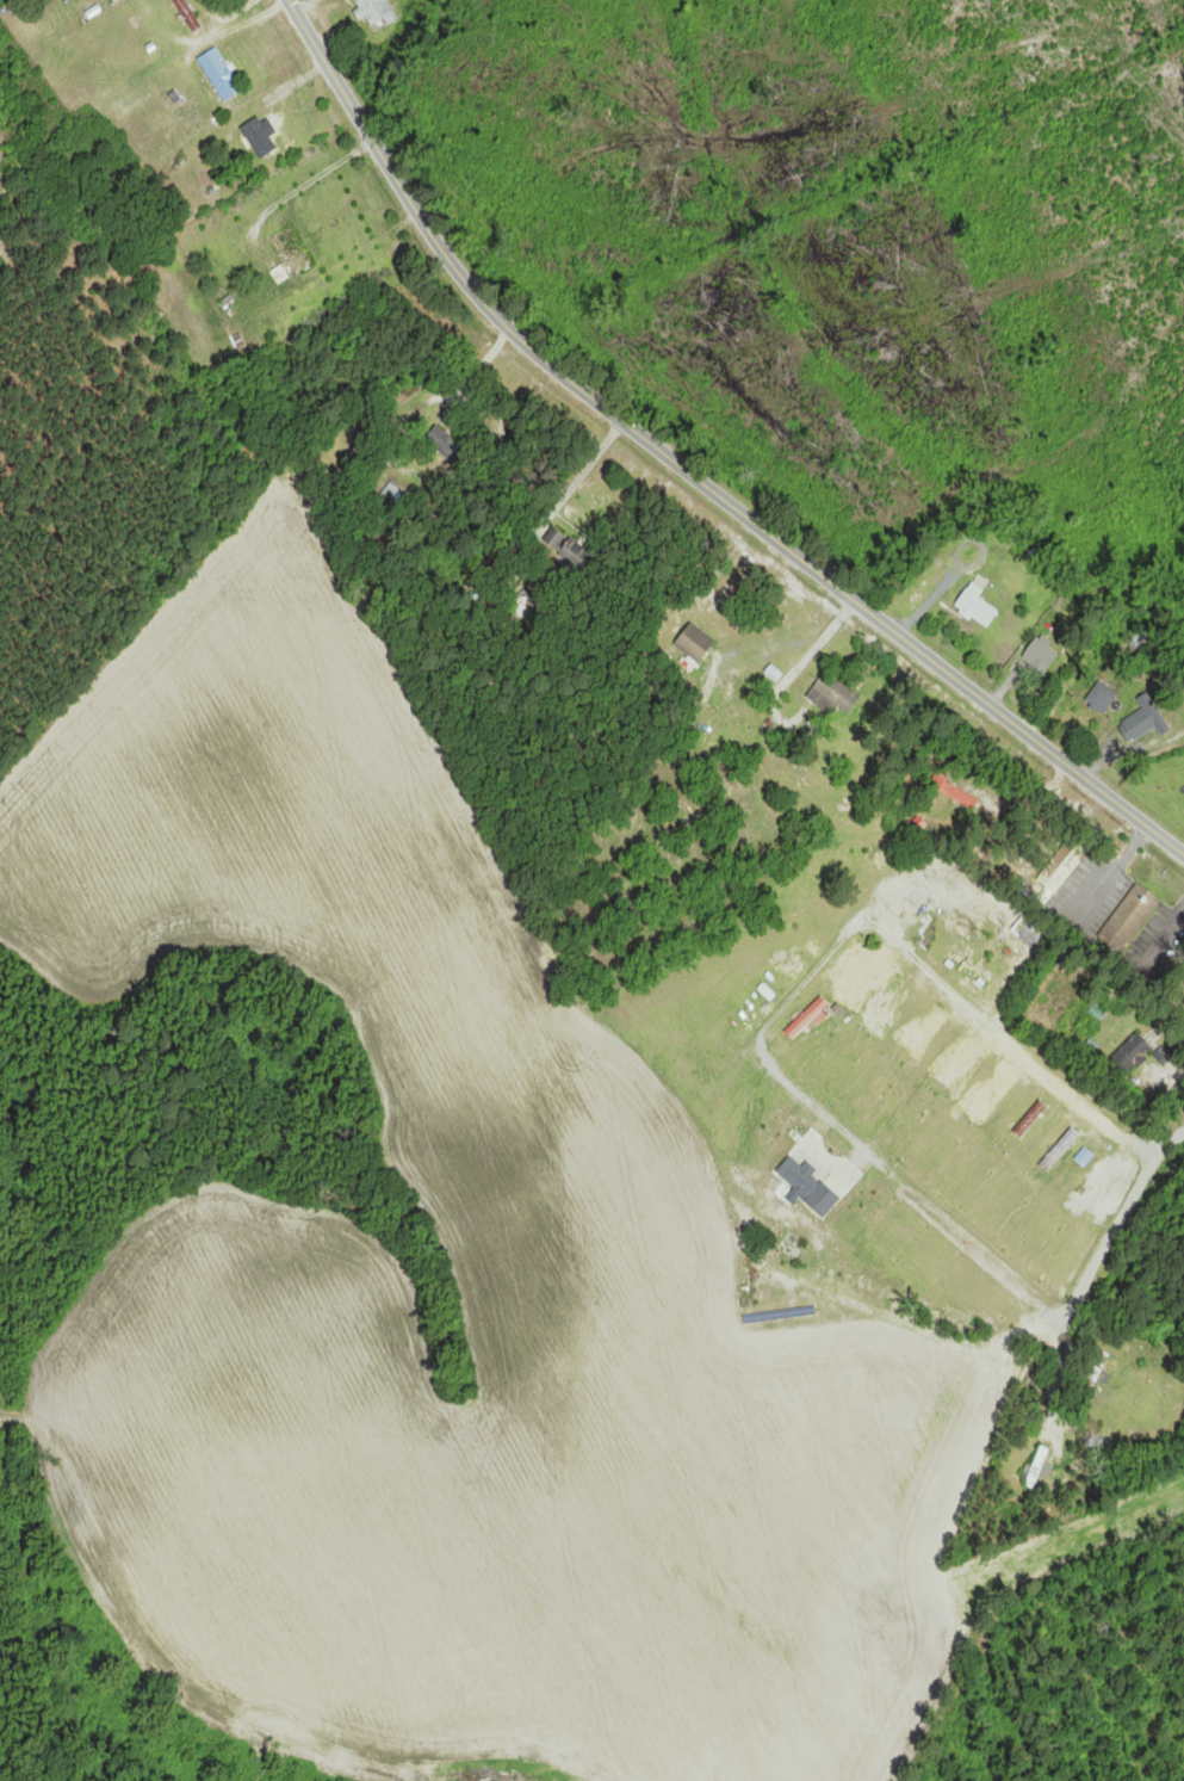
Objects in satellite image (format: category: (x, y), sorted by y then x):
building: (378, 13)
building: (188, 14)
building: (219, 74)
building: (260, 136)
building: (290, 251)
building: (446, 445)
road: (687, 471)
building: (569, 550)
building: (977, 606)
building: (695, 643)
building: (1042, 653)
building: (833, 693)
building: (1146, 719)
building: (1062, 865)
building: (1130, 919)
building: (808, 1018)
building: (1132, 1055)
road: (1025, 1057)
building: (992, 1093)
building: (1030, 1119)
road: (1161, 1144)
building: (1060, 1150)
building: (1097, 1368)
building: (1089, 1434)
building: (1041, 1465)

